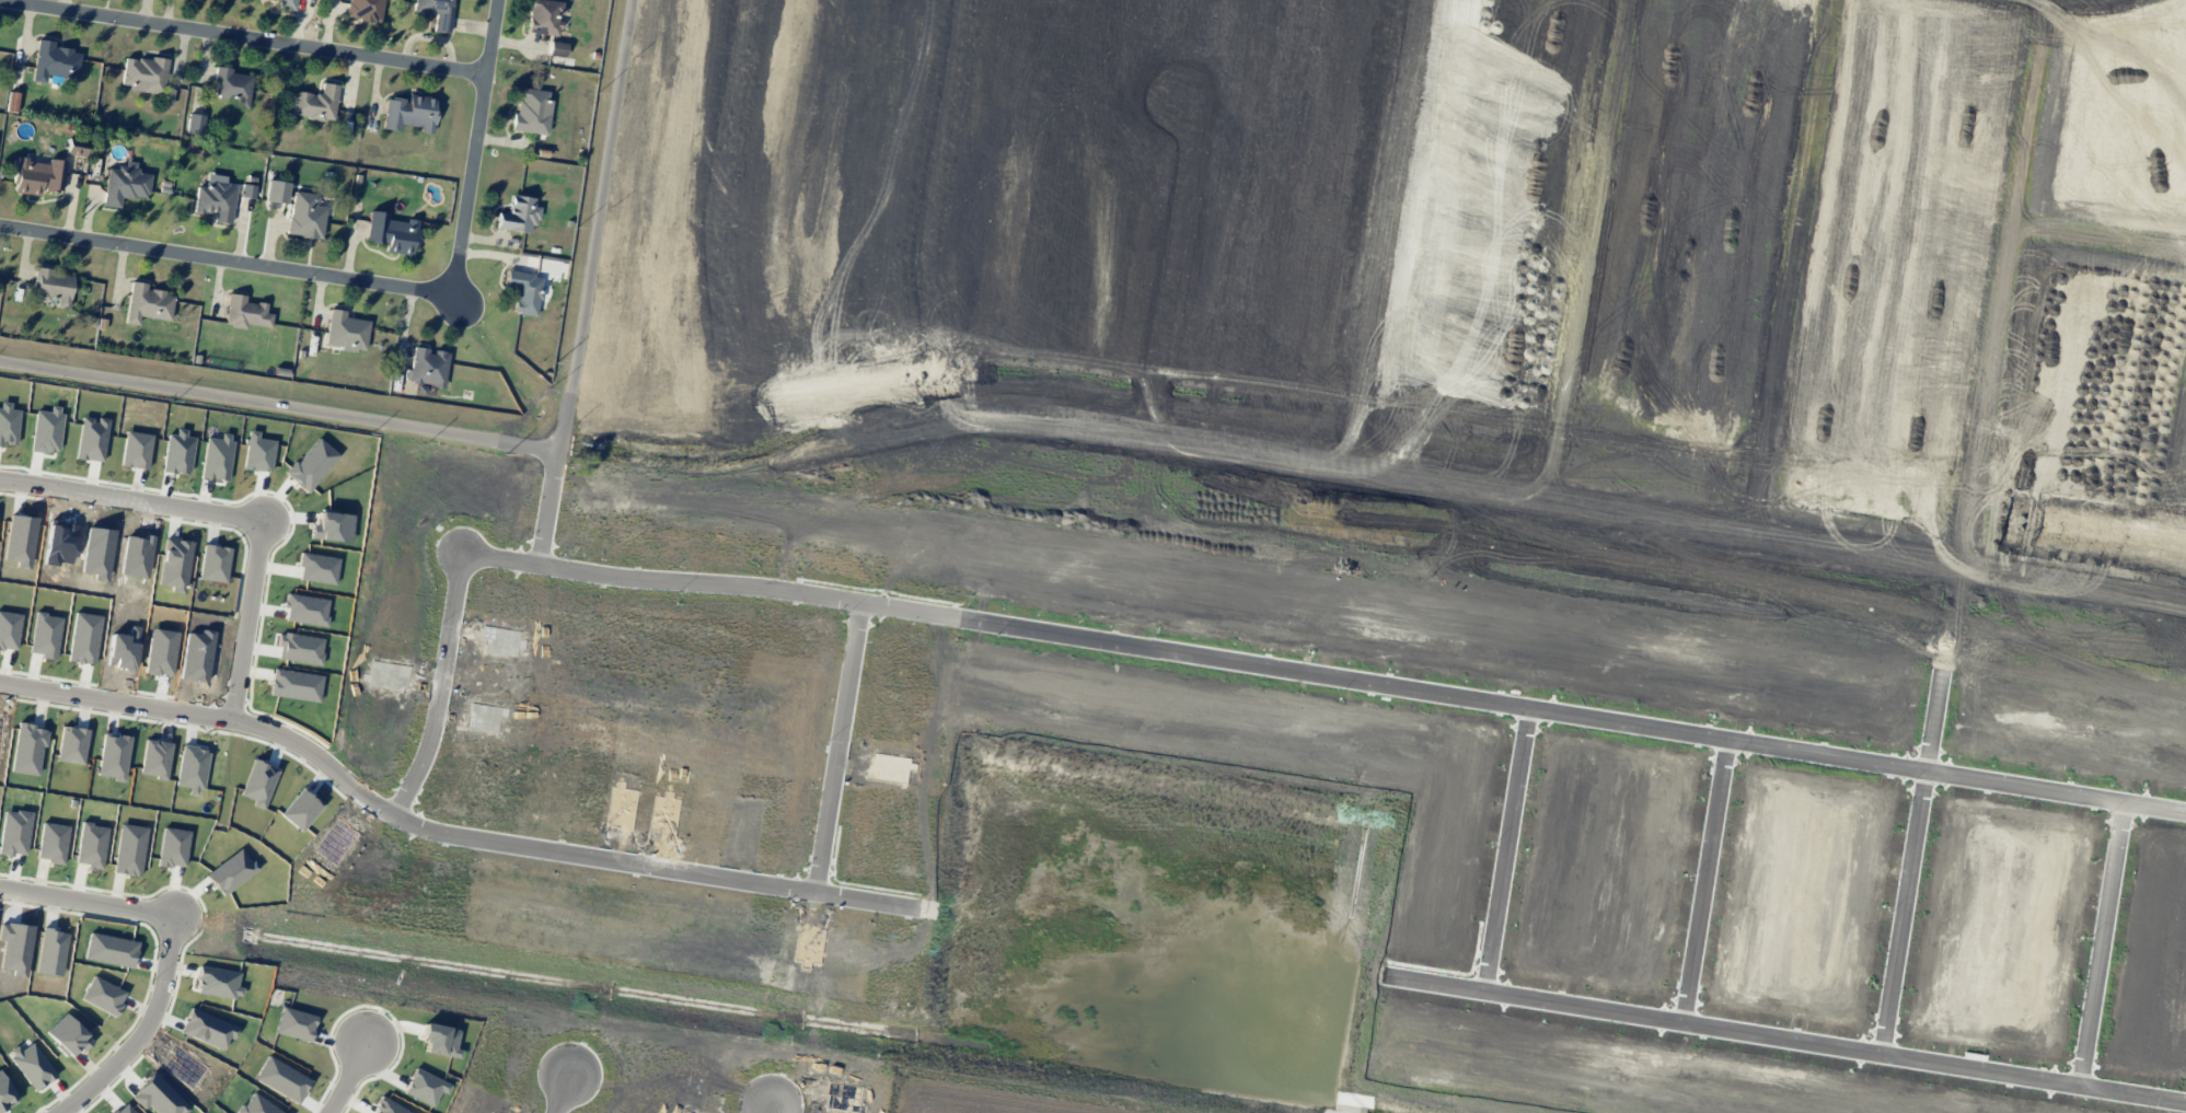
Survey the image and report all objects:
building: (286, 4)
building: (365, 10)
building: (436, 12)
building: (544, 16)
road: (245, 38)
building: (557, 49)
building: (54, 61)
building: (143, 73)
building: (232, 85)
building: (12, 102)
building: (316, 103)
building: (532, 111)
building: (409, 113)
building: (195, 124)
building: (74, 147)
building: (37, 176)
building: (125, 184)
building: (246, 190)
building: (215, 200)
building: (518, 215)
building: (305, 216)
building: (392, 233)
road: (378, 286)
building: (53, 287)
building: (524, 291)
building: (147, 303)
building: (245, 312)
building: (345, 332)
building: (427, 367)
road: (494, 441)
road: (555, 495)
road: (135, 499)
road: (255, 622)
road: (1328, 679)
road: (448, 682)
road: (845, 741)
road: (444, 824)
road: (1505, 850)
road: (1908, 862)
road: (1703, 882)
road: (89, 900)
road: (2100, 944)
building: (285, 1024)
road: (152, 1030)
building: (439, 1033)
road: (1784, 1039)
road: (356, 1078)
building: (427, 1081)
building: (281, 1090)
road: (566, 1090)
road: (777, 1104)
building: (374, 1111)

